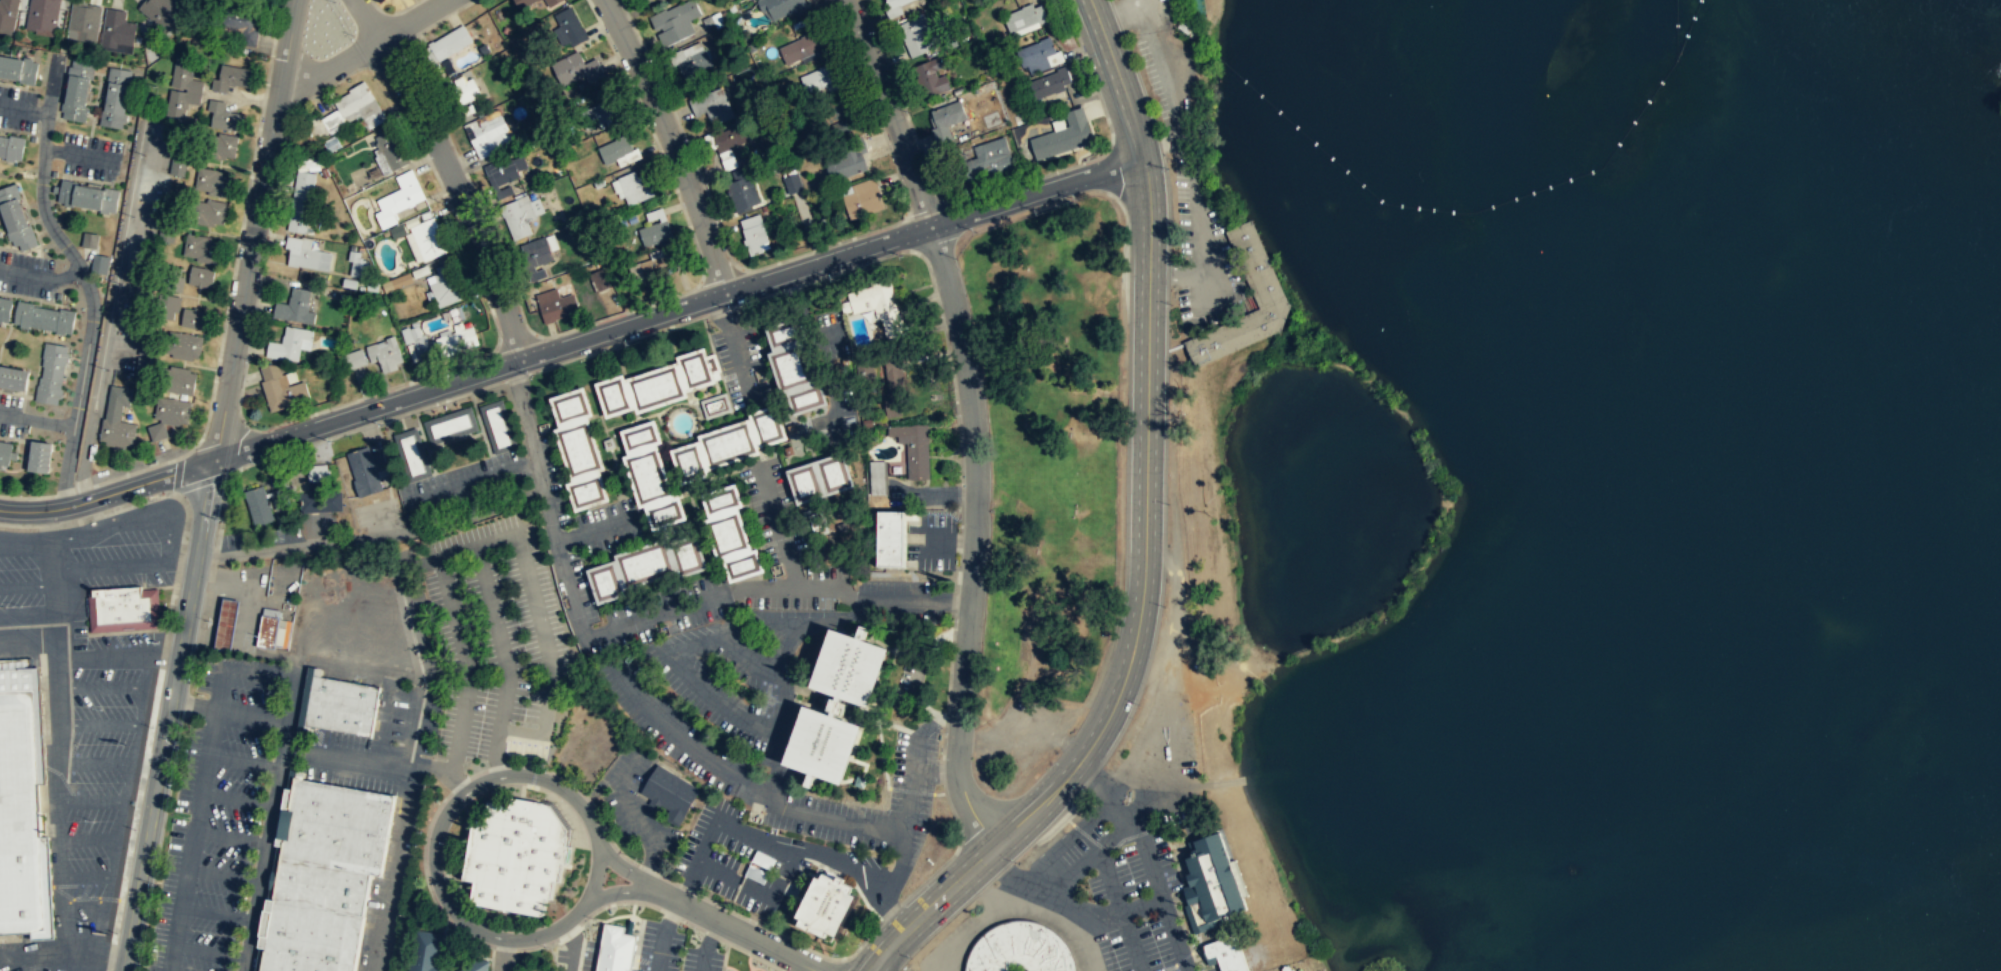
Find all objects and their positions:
building: (639, 0)
building: (551, 2)
building: (526, 3)
building: (778, 7)
building: (893, 7)
building: (161, 12)
road: (1123, 12)
building: (8, 14)
building: (42, 14)
parking lot: (1145, 14)
building: (1024, 16)
building: (83, 20)
building: (676, 21)
building: (242, 24)
building: (571, 26)
building: (117, 31)
street lamp: (354, 34)
building: (916, 35)
building: (450, 42)
building: (802, 46)
road: (363, 47)
building: (1035, 55)
street lamp: (653, 58)
building: (695, 63)
building: (578, 67)
building: (17, 68)
building: (231, 77)
building: (929, 77)
building: (820, 80)
building: (1049, 82)
parking lot: (1172, 83)
building: (77, 89)
building: (182, 90)
building: (463, 93)
building: (116, 96)
road: (1177, 102)
building: (712, 105)
building: (839, 105)
parking lot: (18, 109)
building: (343, 110)
building: (600, 113)
building: (223, 115)
building: (945, 120)
building: (487, 132)
building: (1063, 135)
building: (729, 137)
road: (670, 143)
building: (332, 144)
building: (218, 145)
building: (11, 147)
building: (615, 148)
building: (391, 149)
parking lot: (90, 156)
building: (726, 159)
building: (846, 159)
building: (988, 160)
building: (178, 165)
building: (505, 169)
road: (449, 174)
building: (405, 176)
building: (212, 181)
building: (791, 183)
building: (636, 187)
building: (741, 190)
building: (86, 195)
building: (863, 198)
building: (301, 201)
building: (398, 202)
street lamp: (445, 202)
building: (209, 211)
building: (521, 214)
building: (15, 218)
road: (255, 230)
building: (398, 230)
road: (239, 233)
building: (655, 233)
building: (752, 233)
building: (428, 238)
building: (89, 239)
road: (1203, 247)
building: (201, 248)
parking lot: (1200, 249)
building: (536, 252)
building: (306, 255)
building: (99, 263)
building: (357, 264)
building: (652, 266)
building: (421, 271)
parking lot: (27, 274)
road: (41, 274)
building: (1259, 274)
road: (85, 276)
building: (168, 276)
building: (201, 276)
building: (145, 278)
street lamp: (829, 278)
building: (597, 280)
building: (397, 282)
building: (446, 284)
road: (1214, 287)
building: (141, 297)
building: (879, 304)
building: (167, 305)
building: (556, 305)
building: (295, 307)
building: (5, 308)
road: (679, 308)
road: (112, 310)
street lamp: (733, 310)
building: (43, 317)
building: (193, 318)
building: (784, 333)
building: (457, 341)
street lamp: (631, 342)
building: (183, 344)
building: (286, 345)
building: (146, 347)
building: (424, 350)
building: (386, 353)
building: (355, 358)
building: (143, 366)
building: (789, 368)
building: (696, 369)
building: (50, 373)
street lamp: (532, 374)
building: (13, 378)
building: (177, 381)
building: (657, 387)
building: (896, 387)
building: (281, 389)
building: (614, 396)
building: (805, 398)
road: (521, 399)
building: (571, 406)
building: (715, 406)
building: (172, 410)
parking lot: (11, 415)
building: (117, 418)
road: (973, 418)
road: (37, 420)
building: (450, 424)
building: (768, 426)
building: (498, 427)
building: (157, 431)
building: (641, 436)
park: (1046, 440)
building: (730, 444)
building: (913, 448)
building: (580, 449)
building: (5, 452)
building: (413, 455)
building: (38, 457)
building: (690, 463)
building: (366, 470)
building: (833, 472)
building: (877, 473)
road: (177, 474)
building: (649, 476)
road: (540, 479)
road: (203, 481)
road: (474, 482)
building: (804, 482)
building: (319, 492)
building: (588, 492)
road: (108, 495)
building: (279, 498)
building: (723, 500)
building: (258, 505)
road: (118, 510)
building: (666, 513)
road: (130, 517)
street lamp: (219, 520)
road: (777, 524)
road: (595, 528)
road: (1146, 531)
building: (728, 535)
road: (372, 536)
road: (503, 537)
road: (555, 538)
building: (893, 538)
road: (25, 547)
parking lot: (124, 547)
building: (688, 555)
road: (181, 559)
building: (646, 564)
road: (109, 566)
building: (744, 566)
parking lot: (20, 568)
building: (607, 583)
road: (27, 586)
park: (1202, 592)
road: (851, 593)
road: (278, 603)
building: (123, 609)
road: (669, 609)
road: (785, 619)
building: (226, 624)
building: (273, 629)
parking lot: (111, 638)
road: (460, 639)
road: (691, 641)
parking lot: (494, 644)
road: (256, 652)
road: (744, 653)
road: (139, 657)
road: (238, 668)
road: (782, 670)
road: (409, 676)
street lamp: (191, 679)
road: (100, 690)
road: (718, 701)
road: (305, 703)
road: (188, 704)
building: (343, 705)
building: (832, 706)
road: (169, 715)
road: (246, 715)
road: (386, 718)
road: (97, 725)
street lamp: (152, 727)
road: (57, 730)
road: (671, 731)
parking lot: (1022, 741)
parking lot: (1157, 745)
road: (295, 748)
road: (295, 753)
road: (357, 759)
road: (244, 762)
road: (410, 763)
road: (498, 765)
road: (113, 766)
road: (453, 766)
road: (936, 766)
road: (300, 771)
road: (442, 771)
road: (477, 772)
parking lot: (101, 780)
road: (458, 784)
road: (756, 788)
building: (670, 793)
road: (587, 796)
road: (238, 798)
road: (90, 800)
building: (19, 808)
parking lot: (226, 815)
road: (867, 824)
road: (271, 825)
building: (338, 826)
street lamp: (134, 829)
road: (116, 834)
road: (231, 837)
road: (86, 839)
road: (192, 840)
building: (517, 856)
road: (434, 865)
road: (627, 870)
road: (274, 871)
flagpole: (819, 871)
road: (224, 875)
road: (85, 877)
road: (427, 881)
street lamp: (155, 883)
building: (1210, 885)
building: (322, 886)
road: (622, 891)
road: (84, 902)
building: (831, 902)
road: (217, 913)
road: (671, 915)
road: (587, 917)
road: (690, 924)
road: (103, 928)
road: (737, 931)
street lamp: (116, 933)
road: (710, 934)
building: (311, 939)
road: (440, 944)
road: (503, 948)
building: (617, 949)
building: (1019, 949)
building: (424, 951)
road: (31, 952)
road: (95, 952)
road: (210, 952)
building: (1227, 953)
road: (752, 954)
road: (504, 955)
road: (724, 956)
road: (492, 959)
road: (75, 960)
road: (34, 961)
building: (474, 964)
parking lot: (40, 967)
road: (438, 970)

